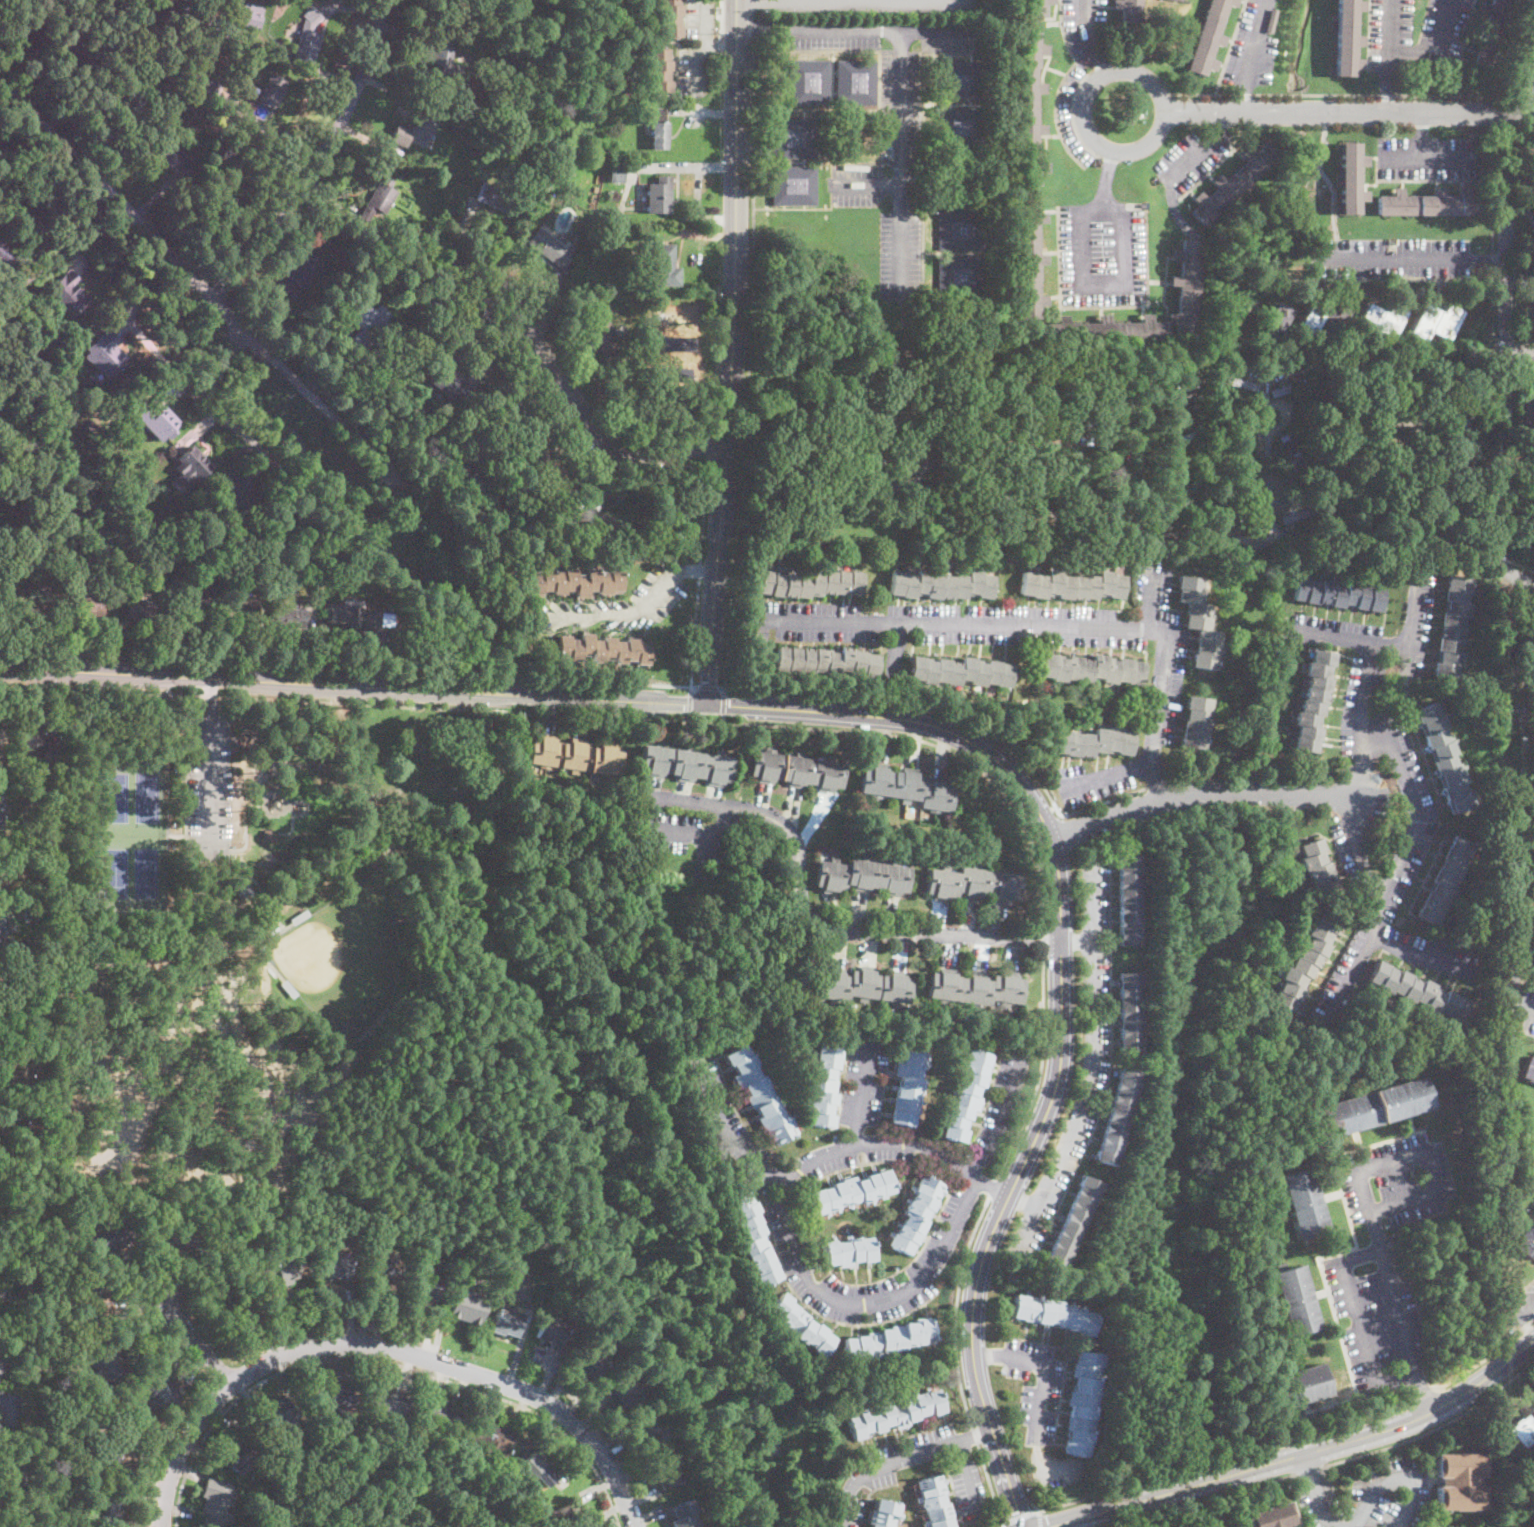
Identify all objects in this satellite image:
road: (755, 0)
road: (873, 0)
road: (3, 4)
building: (1174, 4)
parking lot: (874, 5)
road: (753, 6)
building: (1037, 7)
building: (1128, 10)
building: (251, 14)
building: (670, 17)
building: (1271, 19)
parking lot: (1445, 21)
road: (1087, 26)
road: (763, 28)
road: (1391, 28)
road: (878, 29)
parking lot: (1083, 29)
building: (1491, 33)
building: (1209, 36)
building: (308, 37)
building: (1347, 37)
parking lot: (1252, 46)
road: (1434, 47)
road: (1250, 54)
building: (72, 56)
building: (445, 57)
parking lot: (890, 59)
road: (1102, 63)
road: (1389, 66)
building: (659, 70)
building: (1528, 78)
building: (960, 81)
building: (810, 82)
building: (856, 82)
building: (208, 86)
building: (272, 90)
building: (142, 91)
building: (458, 91)
road: (1388, 94)
road: (1325, 95)
building: (1028, 108)
road: (1348, 112)
parking lot: (1072, 116)
road: (1222, 124)
building: (425, 125)
building: (459, 127)
building: (659, 128)
building: (960, 128)
building: (169, 129)
road: (273, 131)
road: (1421, 134)
building: (794, 138)
road: (1147, 141)
building: (481, 145)
road: (1429, 154)
building: (170, 155)
parking lot: (1192, 159)
parking lot: (1432, 159)
road: (318, 160)
road: (902, 163)
building: (1533, 171)
building: (617, 172)
road: (1179, 172)
building: (945, 176)
building: (1351, 178)
road: (1107, 181)
building: (1233, 183)
building: (794, 185)
road: (867, 188)
building: (226, 189)
building: (660, 195)
building: (380, 197)
building: (496, 197)
building: (1428, 203)
building: (606, 215)
parking lot: (887, 218)
building: (959, 230)
building: (603, 237)
building: (611, 242)
building: (550, 248)
parking lot: (1103, 254)
building: (6, 257)
parking lot: (1391, 258)
building: (1028, 259)
road: (1392, 259)
road: (1489, 261)
building: (665, 265)
building: (299, 274)
building: (371, 275)
building: (959, 276)
road: (197, 281)
road: (1105, 286)
building: (1186, 287)
building: (69, 293)
building: (1277, 321)
building: (1323, 321)
building: (1381, 321)
building: (1438, 321)
building: (368, 325)
building: (1104, 331)
road: (522, 332)
building: (604, 337)
road: (1505, 339)
road: (232, 340)
road: (157, 352)
road: (731, 352)
building: (106, 353)
building: (669, 353)
road: (750, 353)
road: (1519, 353)
road: (209, 369)
building: (623, 379)
road: (920, 382)
road: (192, 384)
building: (453, 386)
building: (1529, 402)
building: (522, 411)
building: (158, 421)
building: (1525, 425)
building: (90, 426)
road: (236, 427)
building: (871, 461)
building: (193, 464)
building: (556, 469)
building: (108, 491)
building: (481, 494)
building: (119, 499)
building: (225, 499)
building: (241, 500)
building: (807, 509)
building: (22, 510)
building: (1293, 514)
building: (592, 517)
road: (1331, 540)
building: (831, 565)
building: (982, 566)
building: (281, 571)
road: (693, 571)
road: (698, 572)
road: (1519, 572)
building: (576, 581)
building: (811, 583)
building: (942, 585)
building: (1072, 585)
building: (1473, 592)
building: (1339, 594)
parking lot: (619, 604)
building: (194, 605)
building: (88, 607)
building: (141, 608)
building: (226, 612)
building: (243, 612)
building: (352, 615)
building: (290, 617)
road: (616, 617)
building: (1472, 617)
building: (1198, 622)
parking lot: (951, 623)
road: (956, 623)
building: (1452, 626)
road: (1349, 640)
building: (1466, 641)
building: (1528, 645)
building: (604, 649)
road: (1408, 658)
building: (826, 661)
building: (1465, 667)
road: (348, 668)
building: (1093, 668)
road: (891, 669)
building: (960, 671)
road: (1162, 679)
parking lot: (1166, 679)
road: (353, 685)
road: (709, 686)
road: (798, 693)
road: (209, 696)
road: (889, 700)
building: (1315, 700)
road: (690, 701)
road: (724, 703)
road: (728, 706)
building: (1005, 708)
road: (584, 716)
road: (689, 716)
building: (1527, 716)
road: (723, 717)
road: (1362, 719)
building: (1196, 722)
parking lot: (1372, 723)
building: (1, 736)
road: (996, 738)
building: (1096, 742)
building: (37, 746)
building: (1, 753)
building: (577, 756)
building: (1446, 757)
building: (687, 764)
building: (798, 770)
road: (1108, 774)
road: (1264, 775)
road: (208, 779)
parking lot: (208, 781)
road: (1159, 785)
building: (907, 787)
road: (1200, 788)
park: (115, 798)
park: (149, 798)
road: (1105, 802)
building: (1, 813)
road: (246, 828)
road: (290, 831)
road: (692, 834)
building: (269, 836)
parking lot: (686, 837)
road: (218, 845)
road: (1361, 849)
road: (704, 858)
building: (1318, 865)
park: (113, 873)
park: (149, 873)
road: (1394, 873)
building: (0, 875)
building: (863, 876)
building: (1446, 879)
road: (258, 884)
building: (974, 884)
building: (226, 888)
building: (240, 891)
building: (1126, 899)
building: (34, 913)
building: (298, 916)
road: (811, 916)
building: (2, 925)
parking lot: (1377, 933)
road: (1078, 938)
road: (1044, 940)
building: (265, 946)
road: (1424, 954)
park: (345, 961)
building: (1307, 962)
road: (1061, 965)
building: (1533, 965)
building: (0, 975)
park: (340, 977)
building: (864, 986)
building: (976, 986)
road: (1511, 986)
building: (288, 989)
building: (1420, 991)
parking lot: (1524, 1009)
building: (1128, 1012)
road: (1093, 1065)
parking lot: (1095, 1065)
building: (19, 1068)
road: (1041, 1070)
building: (1530, 1070)
building: (824, 1085)
parking lot: (863, 1086)
building: (909, 1087)
building: (761, 1095)
road: (861, 1095)
building: (967, 1095)
parking lot: (1002, 1100)
building: (1377, 1107)
building: (1116, 1115)
road: (1003, 1117)
building: (3, 1126)
parking lot: (734, 1127)
road: (899, 1142)
parking lot: (871, 1151)
road: (992, 1187)
building: (852, 1191)
road: (1023, 1201)
building: (1305, 1204)
road: (1369, 1206)
building: (917, 1214)
building: (1071, 1223)
building: (110, 1236)
building: (754, 1238)
building: (176, 1242)
building: (1527, 1243)
building: (849, 1250)
parking lot: (1383, 1258)
parking lot: (930, 1259)
building: (336, 1264)
building: (383, 1267)
building: (281, 1272)
road: (804, 1275)
building: (1, 1283)
building: (425, 1285)
building: (1, 1293)
building: (97, 1301)
building: (1297, 1301)
building: (466, 1306)
parking lot: (1525, 1306)
road: (955, 1309)
building: (1054, 1313)
road: (1523, 1318)
road: (1359, 1321)
building: (507, 1322)
building: (802, 1325)
building: (552, 1331)
building: (891, 1339)
road: (199, 1343)
road: (386, 1346)
road: (1487, 1355)
road: (386, 1361)
building: (591, 1362)
building: (107, 1364)
road: (1046, 1364)
building: (1, 1365)
road: (1486, 1377)
building: (1301, 1385)
building: (160, 1389)
building: (623, 1389)
parking lot: (1040, 1393)
building: (333, 1394)
road: (1425, 1394)
building: (389, 1402)
building: (1081, 1402)
building: (48, 1405)
building: (1533, 1410)
building: (279, 1413)
building: (895, 1413)
building: (440, 1414)
building: (9, 1416)
road: (1435, 1426)
building: (652, 1429)
building: (1523, 1431)
road: (976, 1434)
building: (492, 1436)
road: (975, 1436)
building: (241, 1451)
road: (920, 1452)
building: (110, 1454)
building: (223, 1455)
road: (1219, 1459)
road: (1285, 1459)
road: (1309, 1468)
building: (15, 1469)
building: (272, 1469)
building: (540, 1469)
building: (667, 1473)
parking lot: (872, 1475)
road: (1008, 1477)
road: (1390, 1480)
building: (1459, 1481)
road: (990, 1482)
parking lot: (1387, 1494)
building: (228, 1495)
road: (1314, 1496)
road: (1202, 1500)
building: (935, 1502)
building: (214, 1503)
parking lot: (1319, 1503)
building: (109, 1511)
building: (884, 1513)
building: (685, 1514)
road: (1018, 1514)
road: (1093, 1514)
building: (1271, 1516)
building: (227, 1518)
building: (561, 1518)
road: (1040, 1519)
road: (1001, 1524)
building: (11, 1525)
road: (1063, 1525)
road: (1001, 1526)
building: (1431, 1526)

